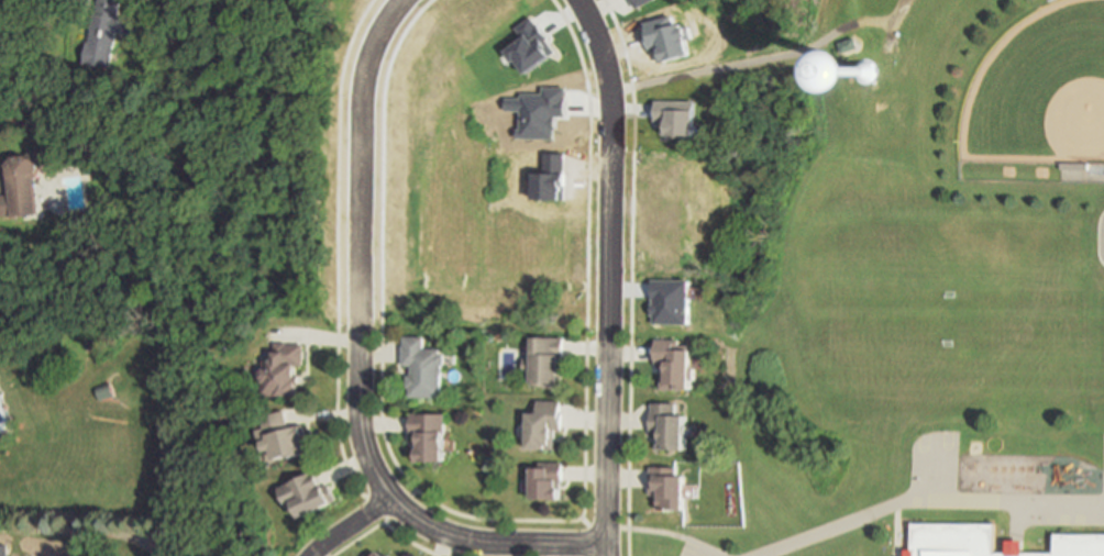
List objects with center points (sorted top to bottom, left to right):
road: (894, 22)
building: (106, 31)
road: (753, 59)
building: (877, 67)
water tower: (864, 71)
park: (1040, 91)
road: (384, 157)
road: (610, 160)
building: (1077, 166)
building: (21, 181)
road: (335, 264)
road: (631, 275)
road: (358, 360)
building: (547, 360)
building: (677, 363)
building: (426, 366)
building: (284, 368)
building: (107, 391)
building: (545, 423)
building: (672, 426)
road: (584, 427)
building: (431, 435)
building: (284, 436)
road: (606, 442)
building: (548, 481)
building: (672, 489)
building: (309, 493)
road: (412, 493)
road: (583, 521)
road: (386, 522)
road: (352, 524)
road: (384, 524)
road: (599, 526)
road: (832, 527)
road: (620, 529)
road: (897, 530)
road: (88, 533)
road: (669, 533)
road: (1018, 535)
road: (586, 541)
building: (992, 542)
parking lot: (700, 548)
road: (706, 553)
road: (714, 553)
building: (379, 554)
building: (3, 555)
building: (390, 555)

